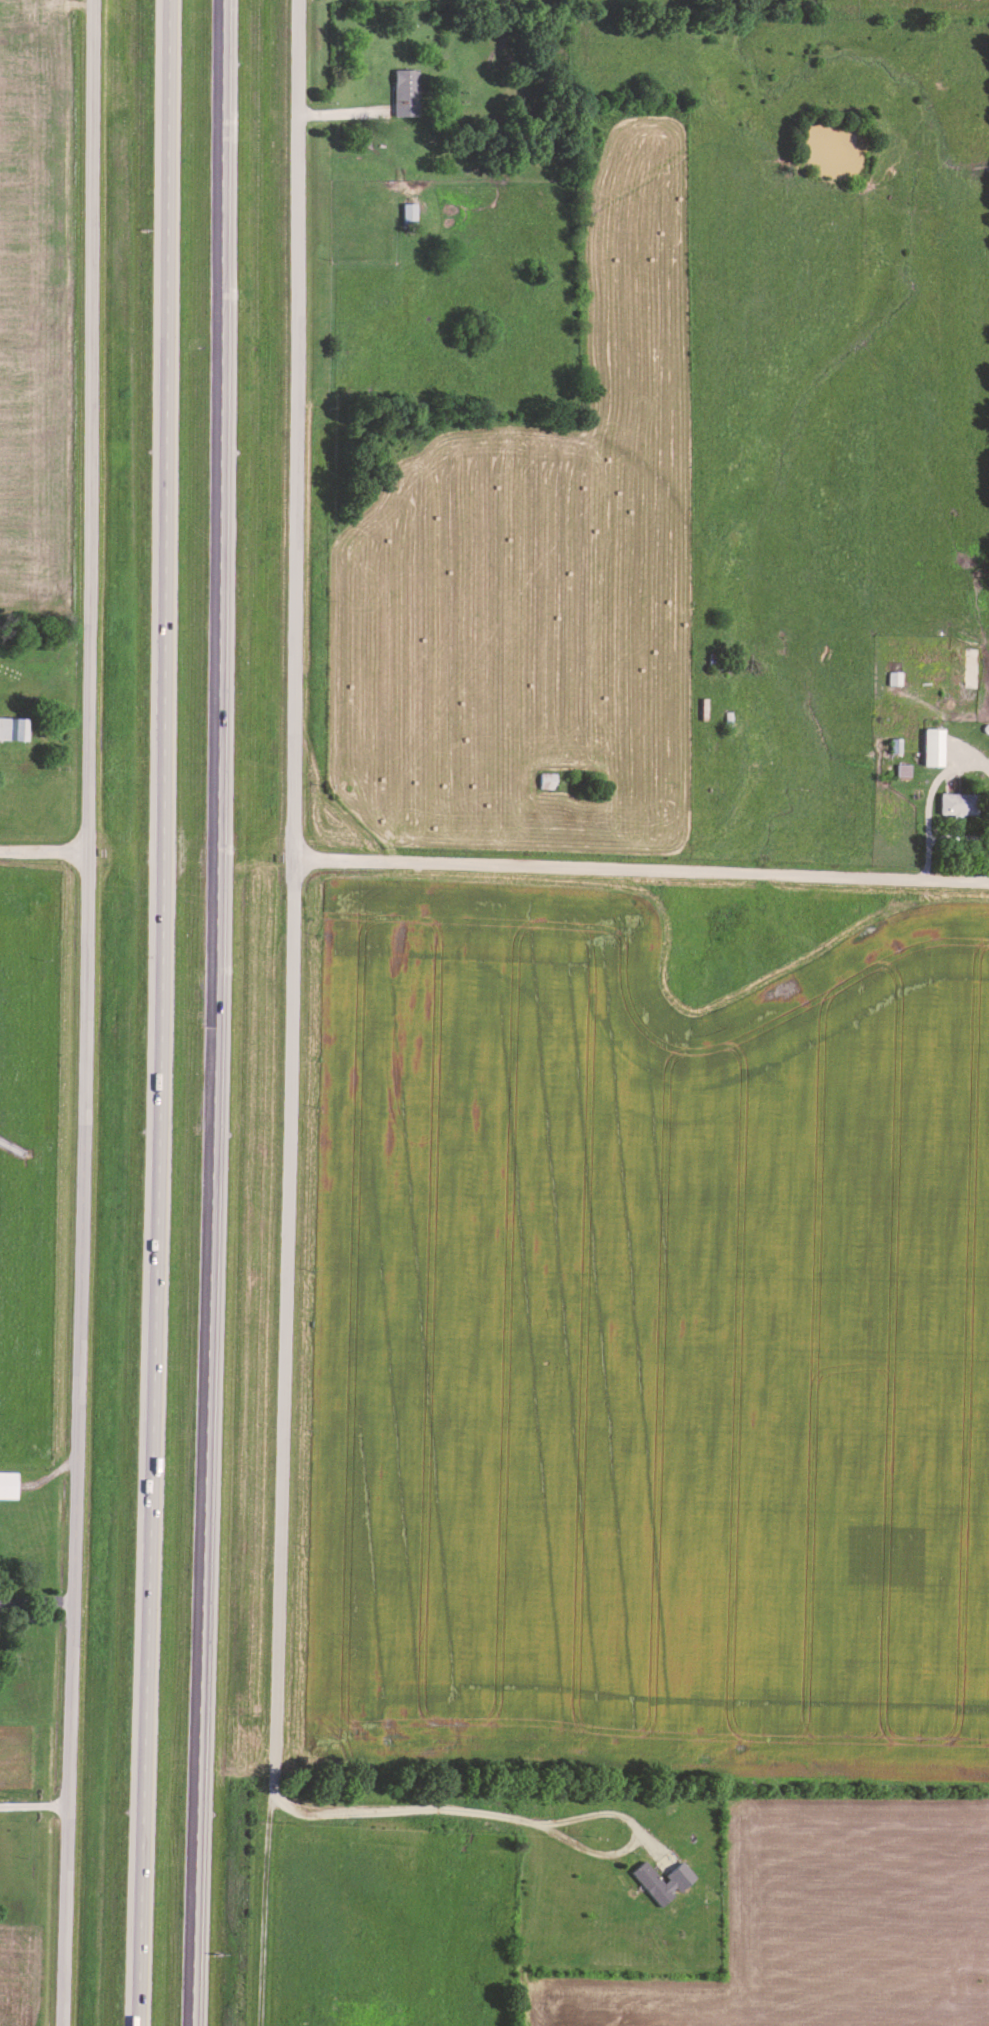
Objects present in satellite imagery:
road: (48, 3)
building: (405, 90)
building: (407, 211)
building: (894, 676)
building: (13, 725)
building: (932, 745)
road: (929, 801)
building: (957, 802)
road: (44, 854)
road: (641, 872)
road: (293, 896)
road: (87, 1013)
road: (164, 1013)
road: (216, 1013)
building: (6, 1482)
road: (35, 1808)
road: (512, 1821)
building: (661, 1878)

